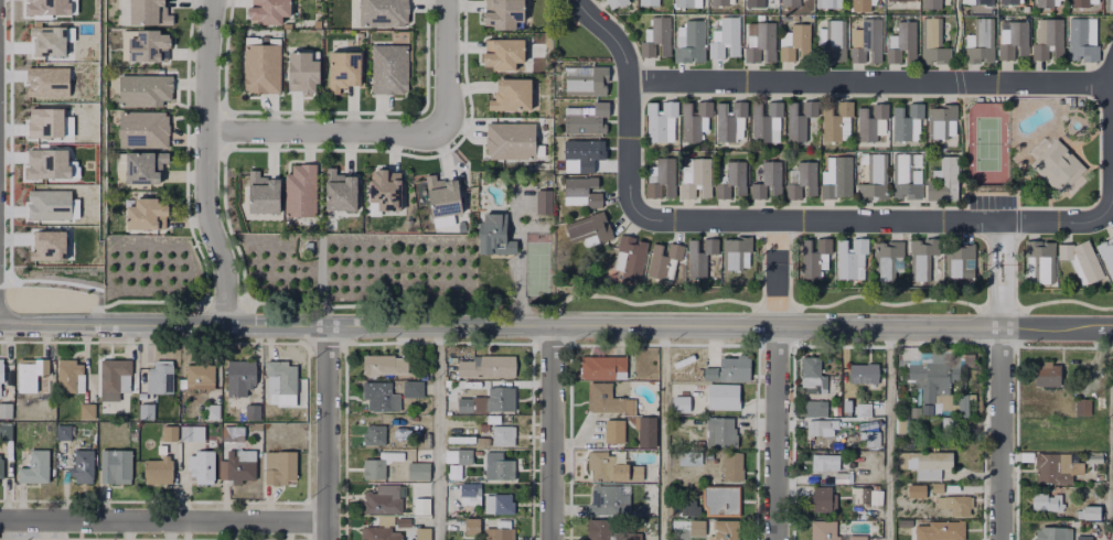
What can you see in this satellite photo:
building: (899, 0)
building: (983, 0)
building: (1009, 0)
building: (649, 1)
building: (719, 1)
building: (1045, 1)
building: (1080, 1)
building: (617, 2)
building: (684, 2)
building: (755, 2)
building: (790, 2)
building: (828, 3)
building: (931, 3)
building: (1110, 3)
building: (860, 4)
building: (44, 7)
building: (269, 11)
building: (148, 13)
building: (383, 14)
building: (503, 17)
building: (656, 36)
building: (726, 36)
building: (855, 37)
building: (1014, 39)
building: (1050, 39)
building: (46, 40)
building: (833, 40)
building: (981, 40)
building: (1080, 40)
building: (692, 41)
building: (761, 41)
building: (798, 41)
building: (867, 41)
building: (932, 41)
building: (903, 42)
building: (148, 47)
building: (503, 56)
road: (445, 62)
building: (261, 72)
building: (344, 72)
building: (388, 72)
building: (302, 73)
building: (586, 79)
building: (45, 82)
road: (870, 83)
building: (146, 89)
building: (510, 99)
building: (588, 118)
building: (799, 118)
building: (940, 118)
building: (659, 119)
building: (693, 119)
building: (728, 119)
building: (763, 119)
building: (905, 119)
building: (837, 120)
building: (869, 120)
building: (43, 122)
building: (145, 129)
road: (325, 130)
building: (509, 142)
building: (581, 152)
building: (1056, 162)
building: (44, 163)
road: (205, 163)
building: (145, 166)
building: (903, 175)
building: (663, 176)
building: (696, 176)
building: (875, 176)
building: (732, 179)
building: (768, 179)
building: (803, 179)
building: (943, 179)
building: (836, 183)
building: (584, 188)
building: (340, 192)
building: (299, 193)
building: (385, 193)
building: (261, 196)
building: (441, 199)
building: (542, 201)
building: (46, 204)
building: (147, 214)
road: (823, 222)
building: (589, 226)
building: (494, 233)
road: (778, 241)
road: (1000, 242)
building: (45, 245)
building: (309, 246)
building: (735, 250)
building: (1106, 253)
building: (700, 255)
building: (813, 255)
building: (632, 256)
building: (921, 256)
building: (850, 257)
building: (957, 257)
building: (663, 258)
building: (888, 258)
building: (1041, 259)
building: (1081, 259)
road: (319, 284)
road: (778, 294)
road: (945, 326)
road: (388, 327)
building: (384, 363)
building: (489, 364)
building: (602, 365)
building: (730, 367)
building: (1, 368)
building: (67, 371)
building: (864, 371)
building: (32, 372)
building: (115, 372)
building: (1048, 372)
building: (200, 374)
building: (813, 374)
building: (160, 375)
building: (239, 375)
building: (281, 375)
building: (968, 375)
building: (934, 379)
building: (0, 380)
building: (413, 389)
building: (381, 396)
building: (707, 398)
building: (489, 400)
building: (609, 400)
road: (1003, 401)
building: (844, 406)
building: (1083, 406)
building: (815, 407)
building: (86, 408)
building: (211, 408)
building: (6, 409)
building: (146, 409)
building: (253, 410)
building: (860, 410)
building: (916, 410)
building: (952, 422)
building: (483, 424)
building: (822, 425)
building: (6, 430)
building: (170, 430)
building: (648, 430)
building: (723, 430)
building: (233, 431)
building: (374, 432)
building: (61, 433)
road: (437, 433)
road: (553, 433)
road: (662, 433)
road: (777, 433)
road: (887, 433)
road: (1111, 433)
road: (327, 434)
building: (500, 435)
building: (614, 435)
building: (873, 438)
building: (196, 452)
building: (465, 456)
building: (689, 457)
building: (1090, 457)
building: (115, 463)
building: (930, 463)
building: (239, 464)
building: (279, 464)
building: (501, 464)
building: (1, 465)
building: (35, 465)
building: (81, 465)
building: (734, 465)
building: (830, 465)
building: (1050, 465)
building: (374, 467)
building: (613, 467)
building: (158, 469)
building: (419, 469)
building: (934, 487)
building: (913, 490)
building: (469, 492)
building: (861, 494)
building: (426, 496)
building: (383, 498)
building: (824, 498)
building: (621, 499)
building: (721, 499)
building: (1046, 499)
building: (503, 503)
building: (956, 503)
building: (689, 506)
building: (424, 507)
building: (1089, 511)
building: (403, 521)
building: (902, 522)
road: (163, 523)
building: (472, 526)
building: (716, 528)
building: (599, 529)
building: (503, 530)
building: (827, 531)
building: (939, 531)
building: (422, 532)
building: (381, 533)
building: (1055, 533)
building: (1084, 537)

